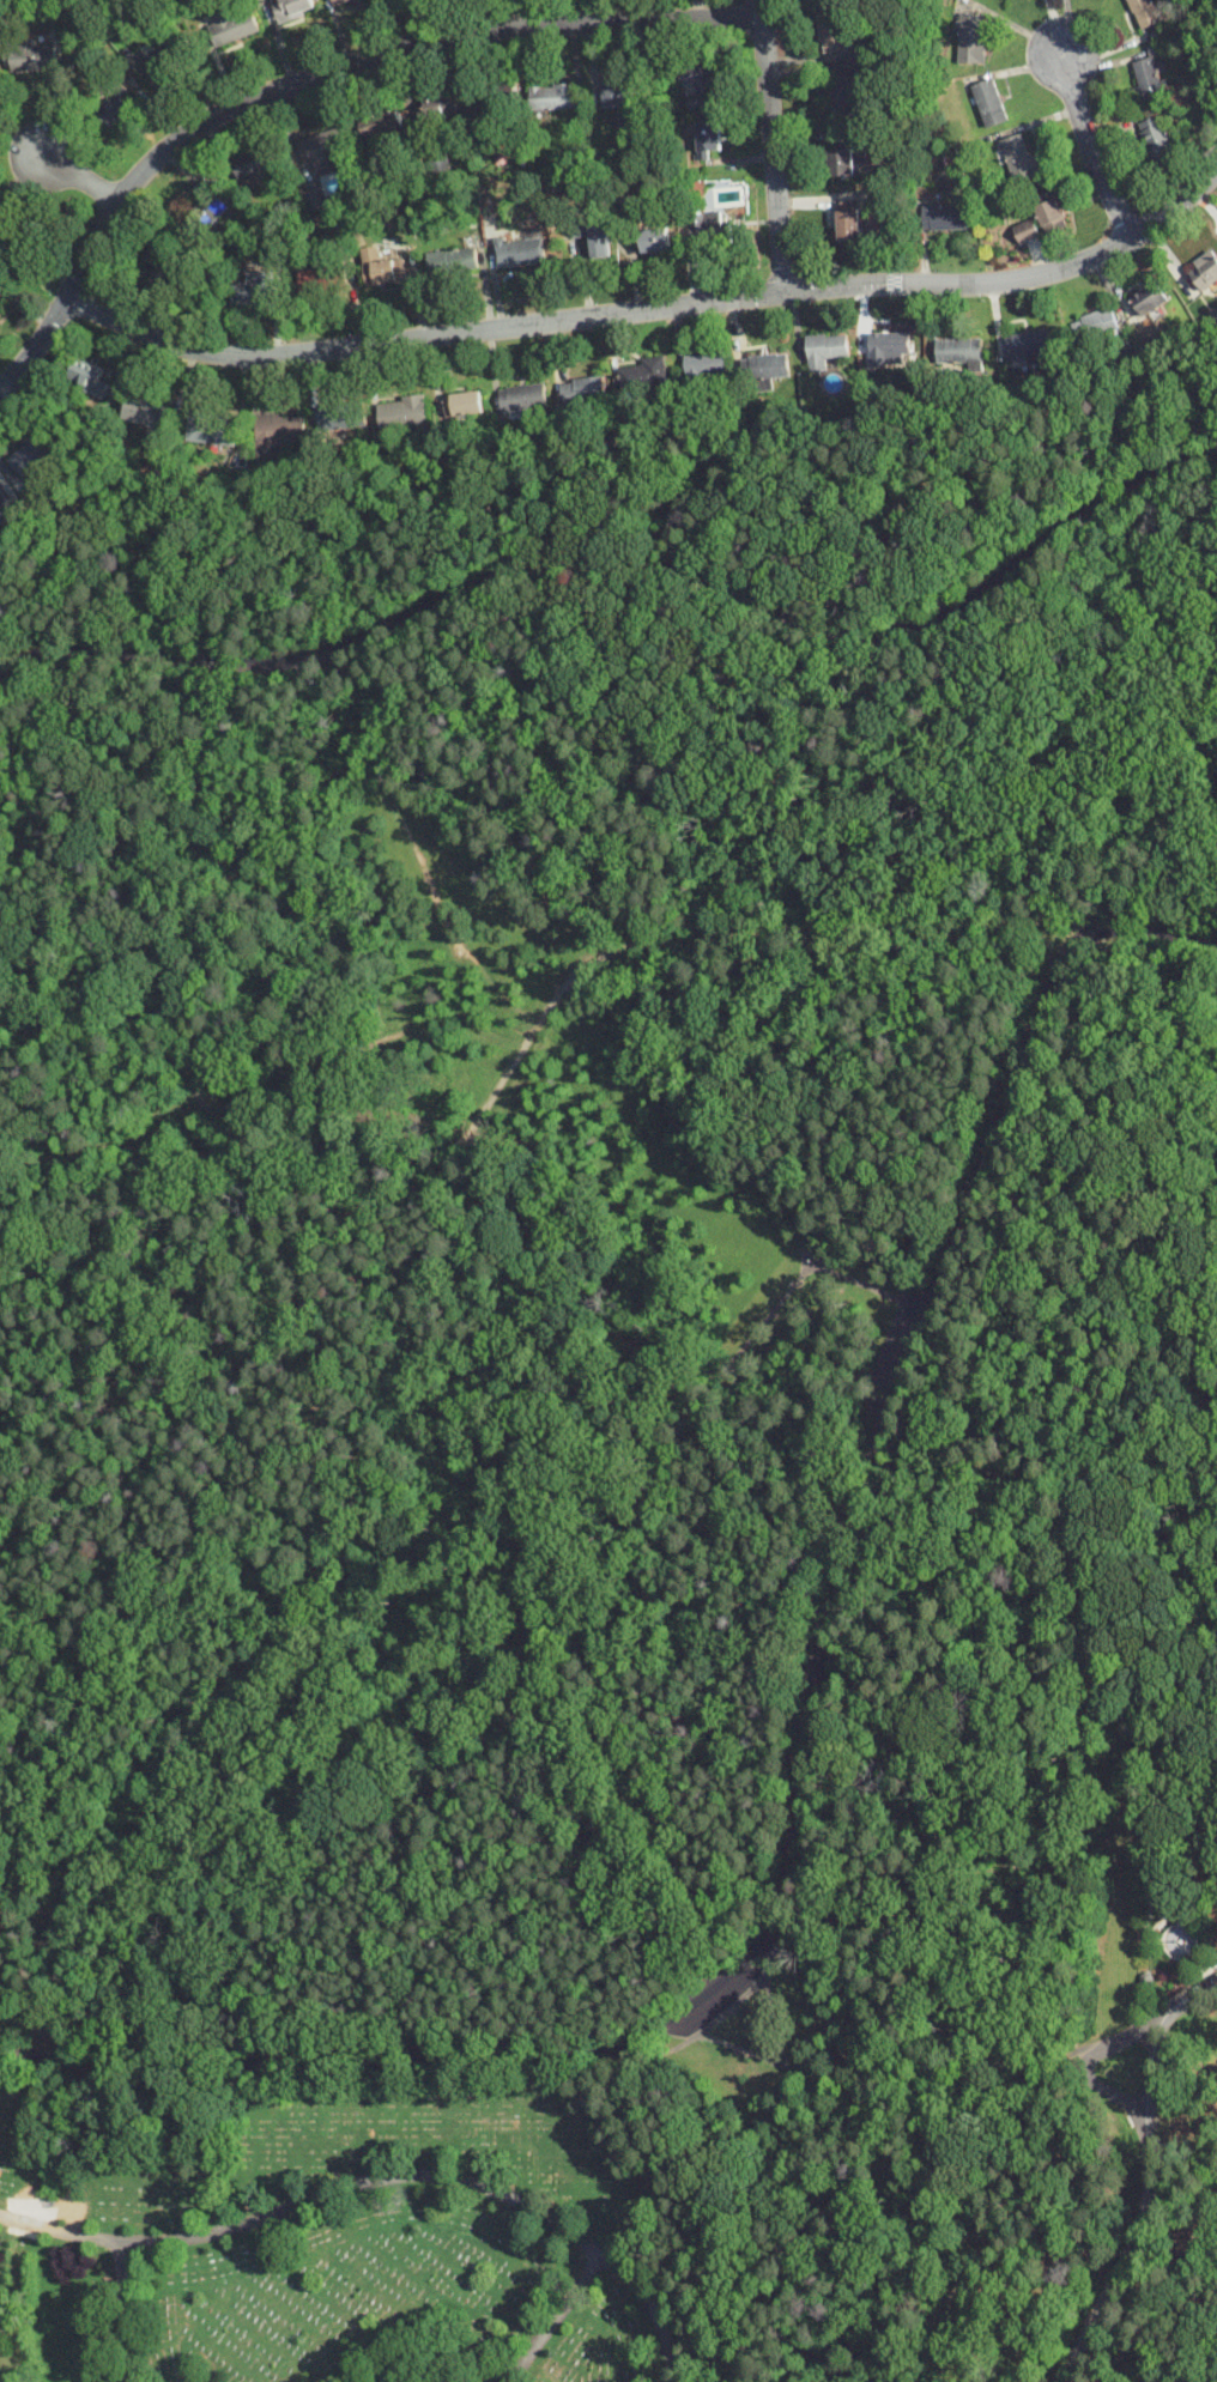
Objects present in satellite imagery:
building: (338, 1)
building: (291, 8)
building: (1142, 12)
building: (234, 24)
building: (832, 28)
building: (971, 37)
building: (164, 56)
building: (32, 57)
building: (1146, 77)
road: (313, 78)
building: (700, 85)
building: (618, 93)
building: (843, 93)
building: (495, 96)
building: (552, 96)
building: (988, 101)
building: (436, 105)
building: (115, 108)
building: (127, 108)
building: (446, 114)
building: (379, 123)
building: (1149, 133)
building: (709, 137)
building: (326, 143)
road: (774, 144)
road: (1086, 147)
building: (1019, 158)
building: (844, 160)
building: (252, 164)
road: (77, 177)
building: (314, 194)
building: (201, 211)
building: (1051, 212)
building: (946, 217)
building: (849, 220)
building: (708, 228)
building: (1025, 230)
building: (20, 236)
building: (655, 238)
building: (599, 240)
building: (517, 251)
building: (452, 260)
building: (159, 265)
building: (382, 266)
building: (1201, 269)
building: (323, 279)
building: (253, 287)
building: (1, 305)
road: (653, 305)
building: (1027, 344)
building: (890, 345)
building: (827, 348)
building: (959, 350)
building: (706, 363)
building: (768, 365)
building: (641, 371)
building: (87, 375)
building: (582, 388)
building: (522, 396)
building: (462, 402)
building: (146, 411)
building: (402, 412)
building: (340, 417)
building: (211, 429)
building: (279, 431)
building: (31, 457)
building: (1, 497)
road: (628, 564)
building: (305, 656)
road: (295, 726)
road: (870, 752)
road: (1130, 764)
road: (127, 814)
road: (551, 873)
road: (1169, 931)
road: (1071, 933)
road: (53, 1019)
road: (535, 1025)
road: (764, 1085)
park: (576, 1253)
road: (237, 1371)
road: (667, 1461)
road: (797, 1795)
park: (1062, 1936)
road: (868, 2050)
road: (1086, 2067)
road: (1144, 2175)
road: (379, 2181)
road: (930, 2228)
park: (343, 2243)
road: (985, 2255)
road: (121, 2314)
road: (552, 2317)
road: (444, 2360)

